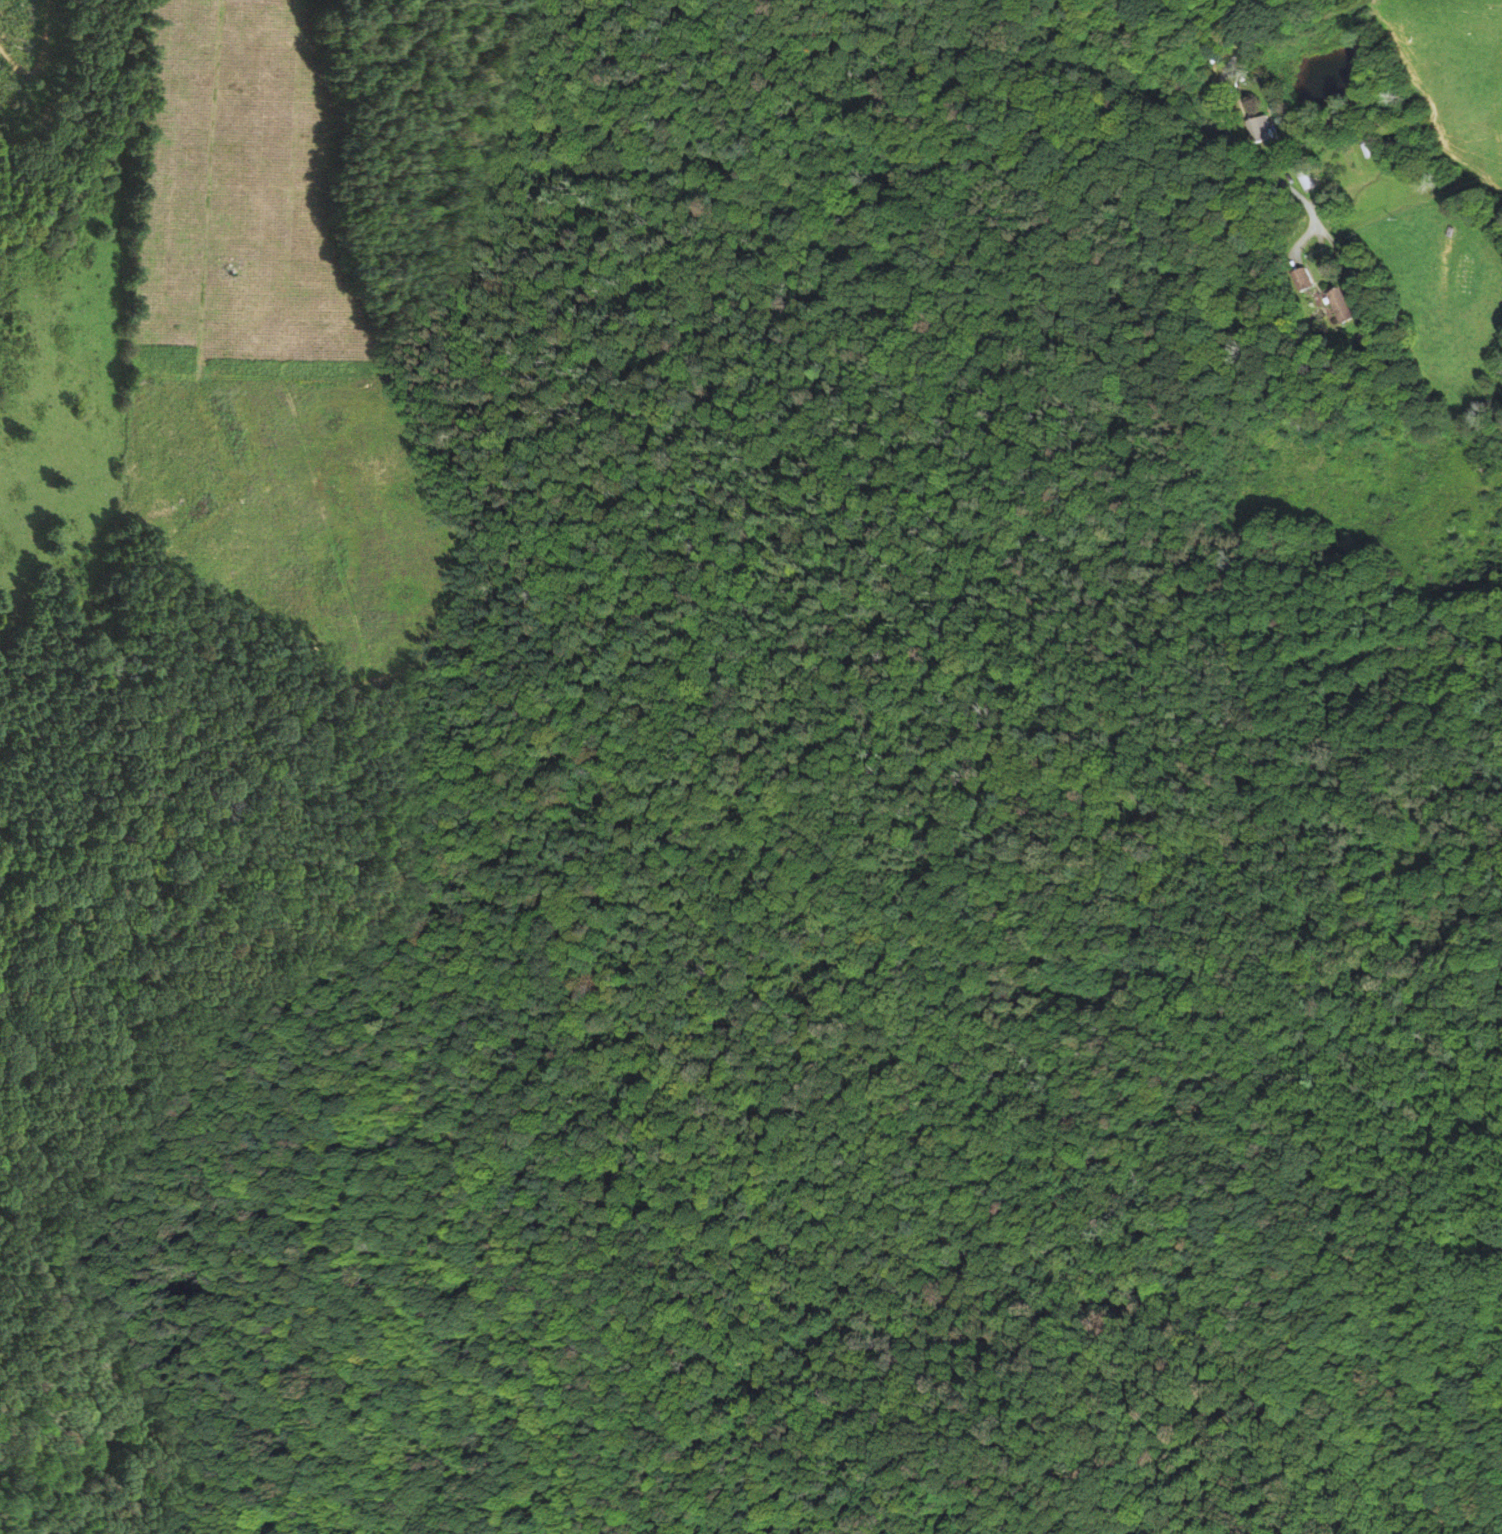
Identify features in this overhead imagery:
building: (1250, 130)
road: (1232, 140)
building: (1359, 151)
building: (1459, 274)
building: (1337, 305)

